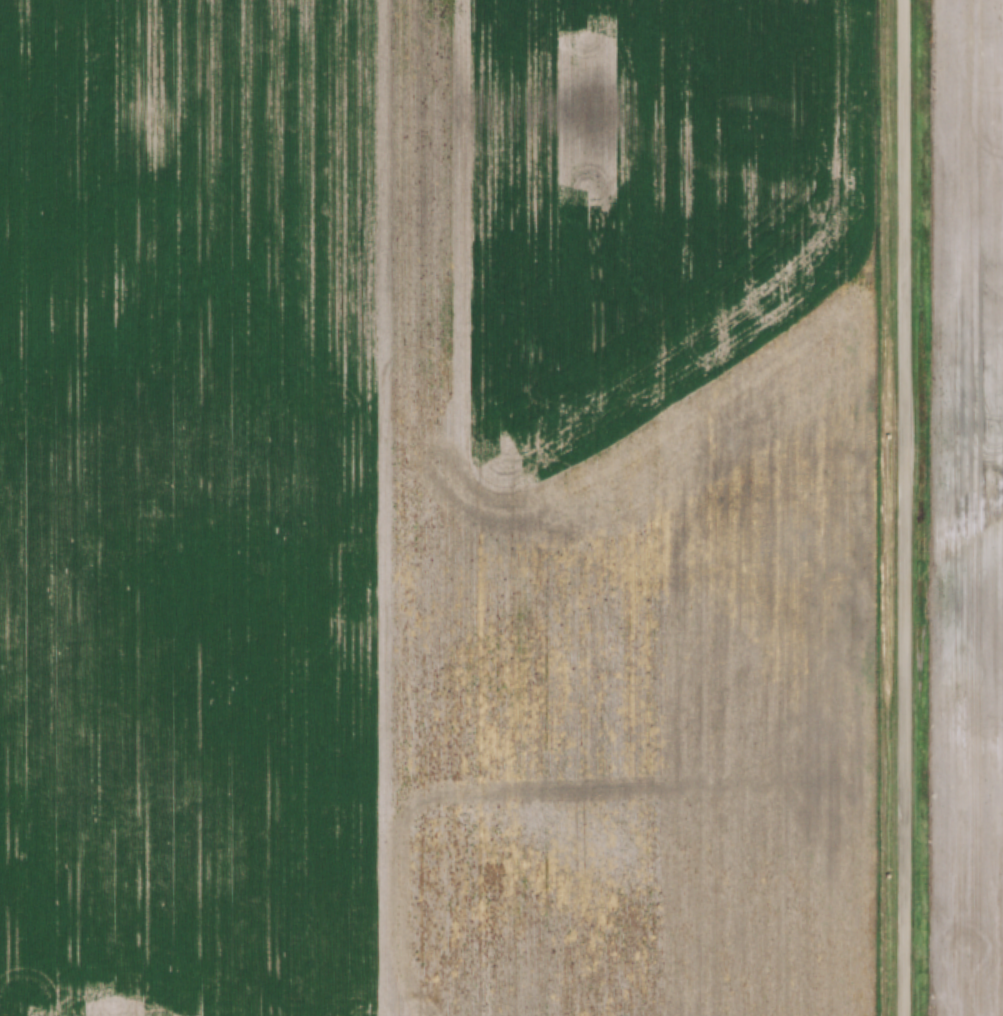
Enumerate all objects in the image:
road: (906, 508)

